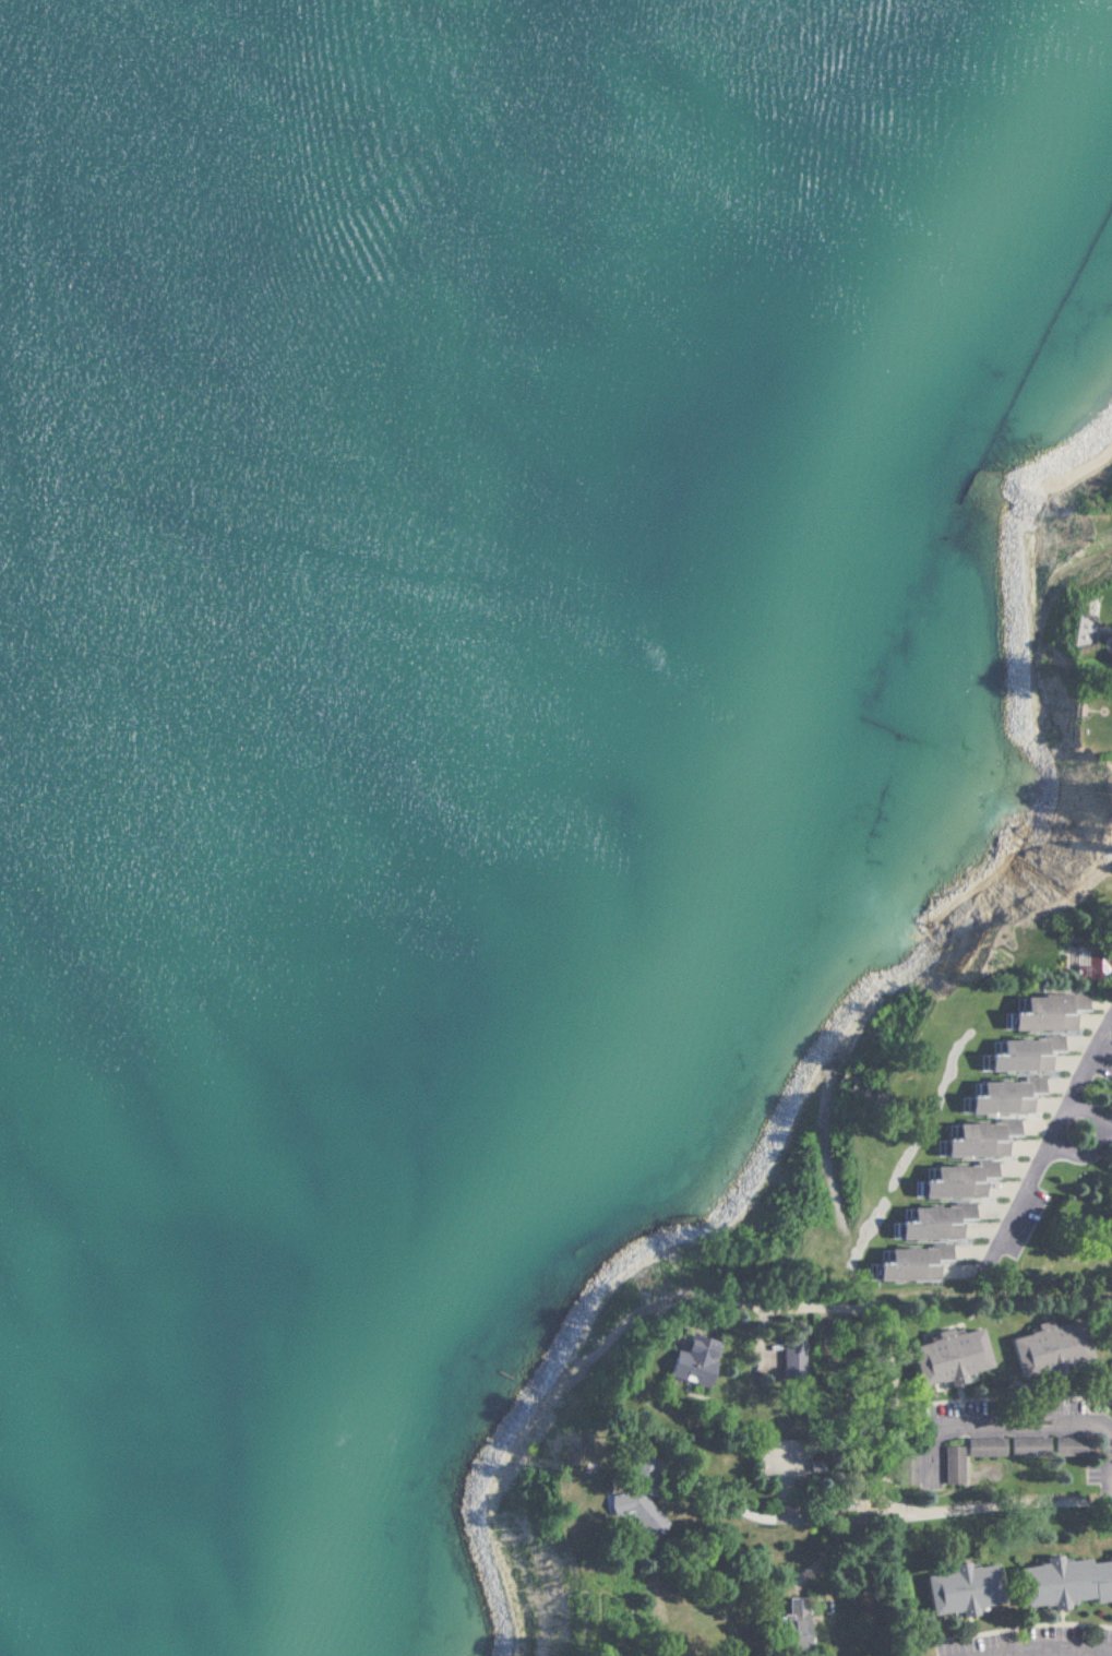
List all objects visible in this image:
building: (1042, 1011)
building: (1019, 1053)
building: (1000, 1096)
road: (1088, 1123)
road: (1060, 1132)
building: (976, 1137)
building: (953, 1179)
building: (929, 1220)
building: (908, 1261)
building: (1045, 1349)
building: (942, 1356)
building: (684, 1360)
building: (788, 1361)
road: (1029, 1425)
building: (949, 1465)
building: (904, 1469)
building: (631, 1503)
road: (724, 1517)
road: (918, 1517)
building: (1062, 1582)
building: (958, 1589)
building: (788, 1624)
road: (1056, 1652)

